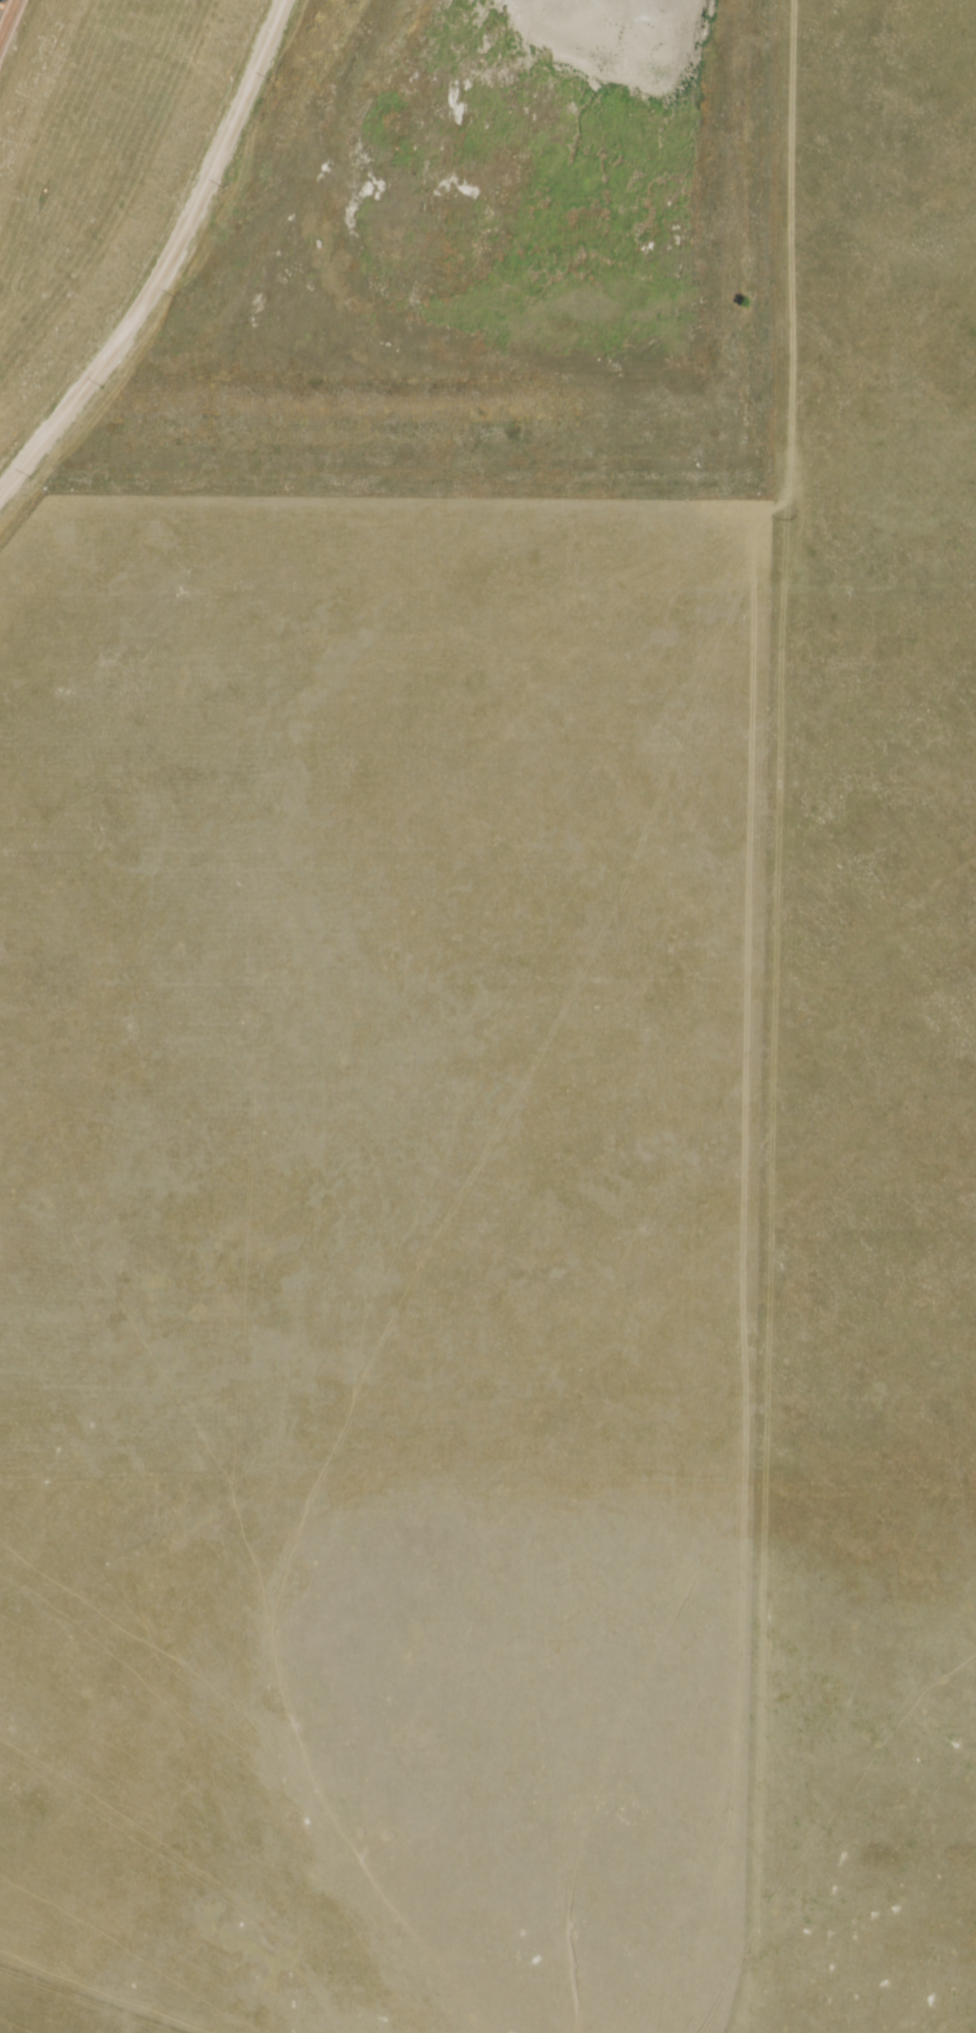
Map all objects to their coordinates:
railway: (0, 0)
road: (7, 17)
road: (171, 260)

